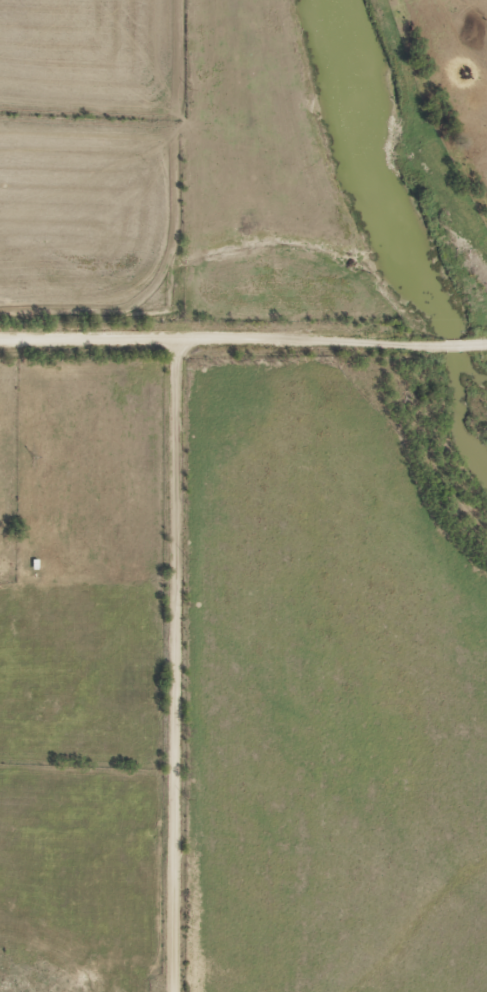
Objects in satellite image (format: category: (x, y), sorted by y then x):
road: (89, 343)
road: (299, 344)
road: (453, 348)
road: (173, 668)

